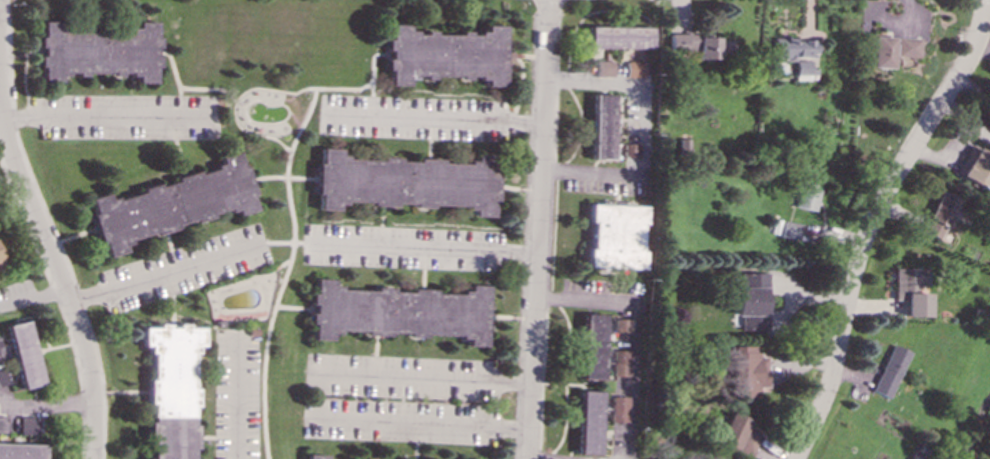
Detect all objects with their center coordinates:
building: (619, 36)
building: (702, 45)
building: (907, 46)
building: (791, 48)
building: (97, 51)
building: (880, 51)
building: (445, 54)
building: (604, 68)
building: (635, 68)
building: (804, 70)
road: (371, 77)
road: (209, 88)
road: (640, 88)
road: (345, 89)
road: (235, 100)
road: (180, 102)
road: (1, 107)
road: (103, 118)
road: (447, 118)
building: (602, 126)
building: (625, 149)
building: (974, 167)
road: (586, 174)
building: (411, 184)
building: (807, 195)
building: (172, 203)
building: (939, 214)
road: (873, 221)
road: (540, 229)
building: (789, 230)
building: (615, 236)
road: (284, 243)
road: (427, 246)
building: (1, 266)
road: (59, 271)
road: (289, 272)
road: (163, 274)
building: (909, 290)
building: (752, 300)
building: (399, 311)
building: (623, 325)
road: (634, 338)
building: (593, 346)
building: (1, 349)
building: (24, 354)
building: (621, 362)
building: (746, 370)
building: (890, 370)
building: (3, 376)
road: (429, 378)
building: (178, 391)
road: (239, 400)
road: (48, 405)
building: (619, 408)
building: (590, 422)
building: (2, 424)
building: (28, 425)
road: (428, 425)
building: (735, 437)
building: (21, 451)
building: (314, 456)

